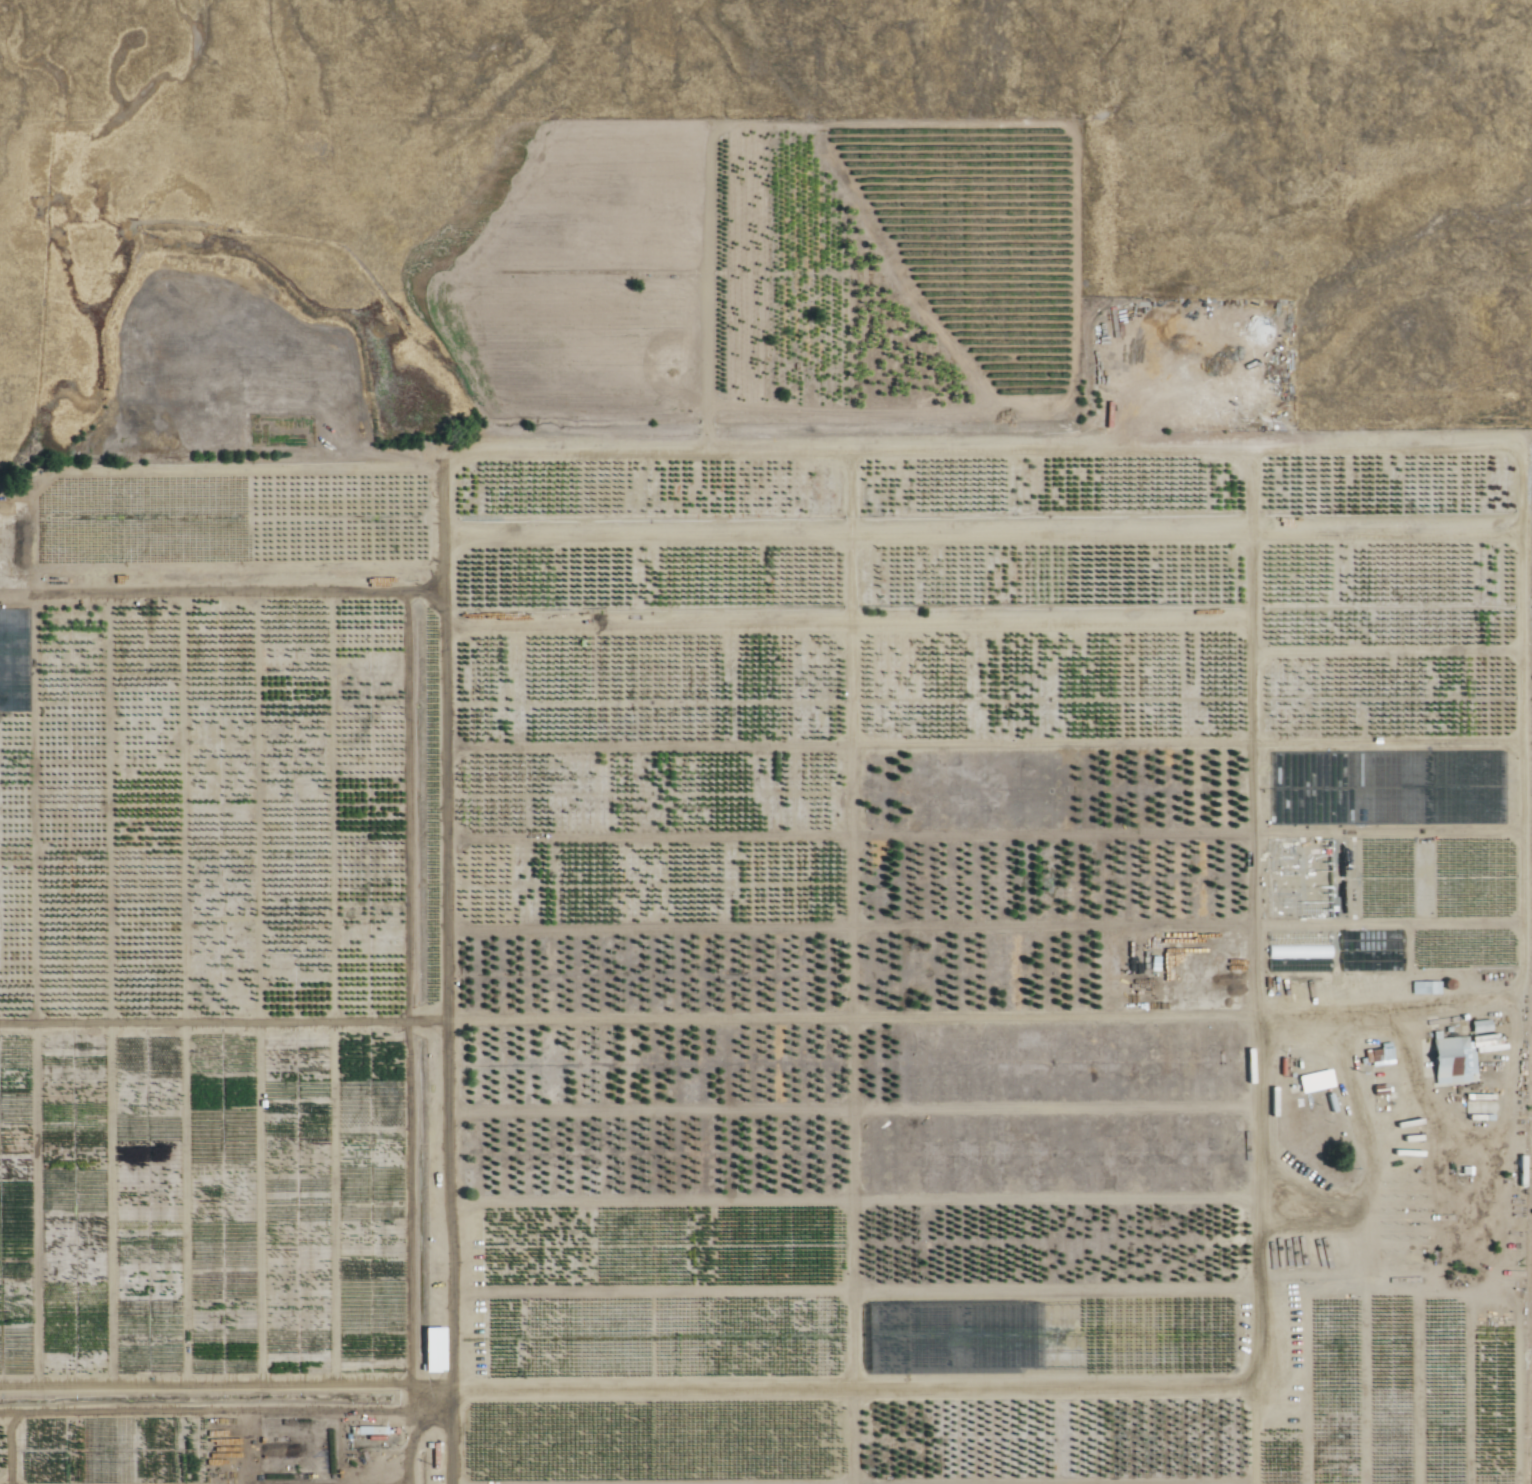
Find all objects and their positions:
building: (1298, 880)
building: (1370, 951)
building: (1298, 952)
building: (1458, 1055)
road: (1264, 1341)

